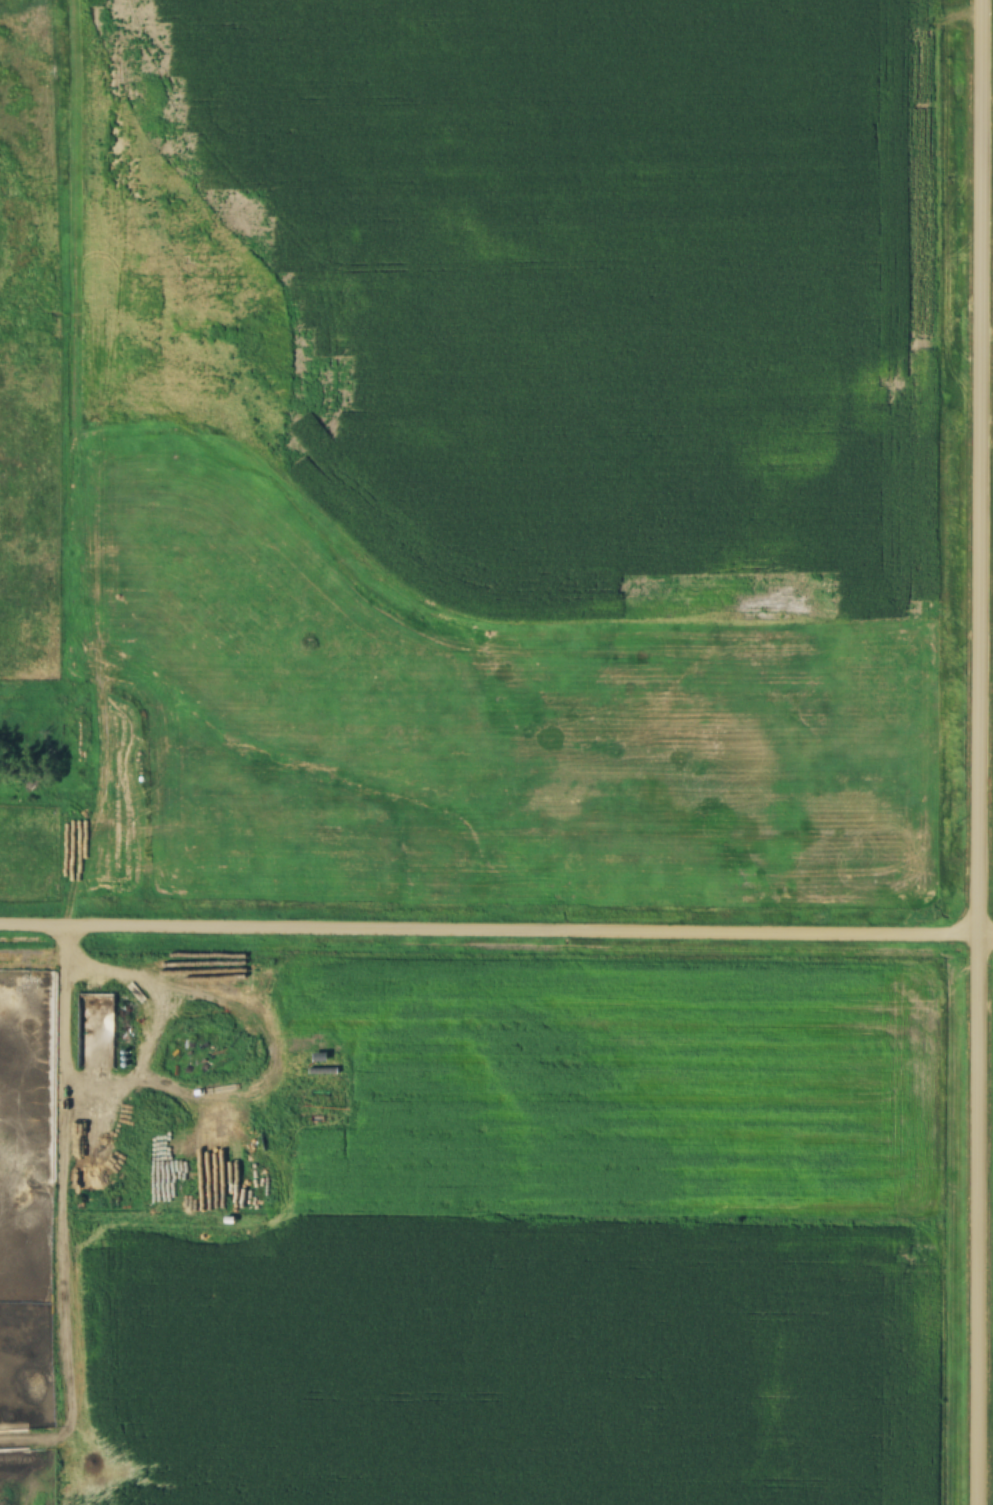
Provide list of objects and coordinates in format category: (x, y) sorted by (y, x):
road: (978, 752)
road: (496, 929)
building: (97, 1031)

